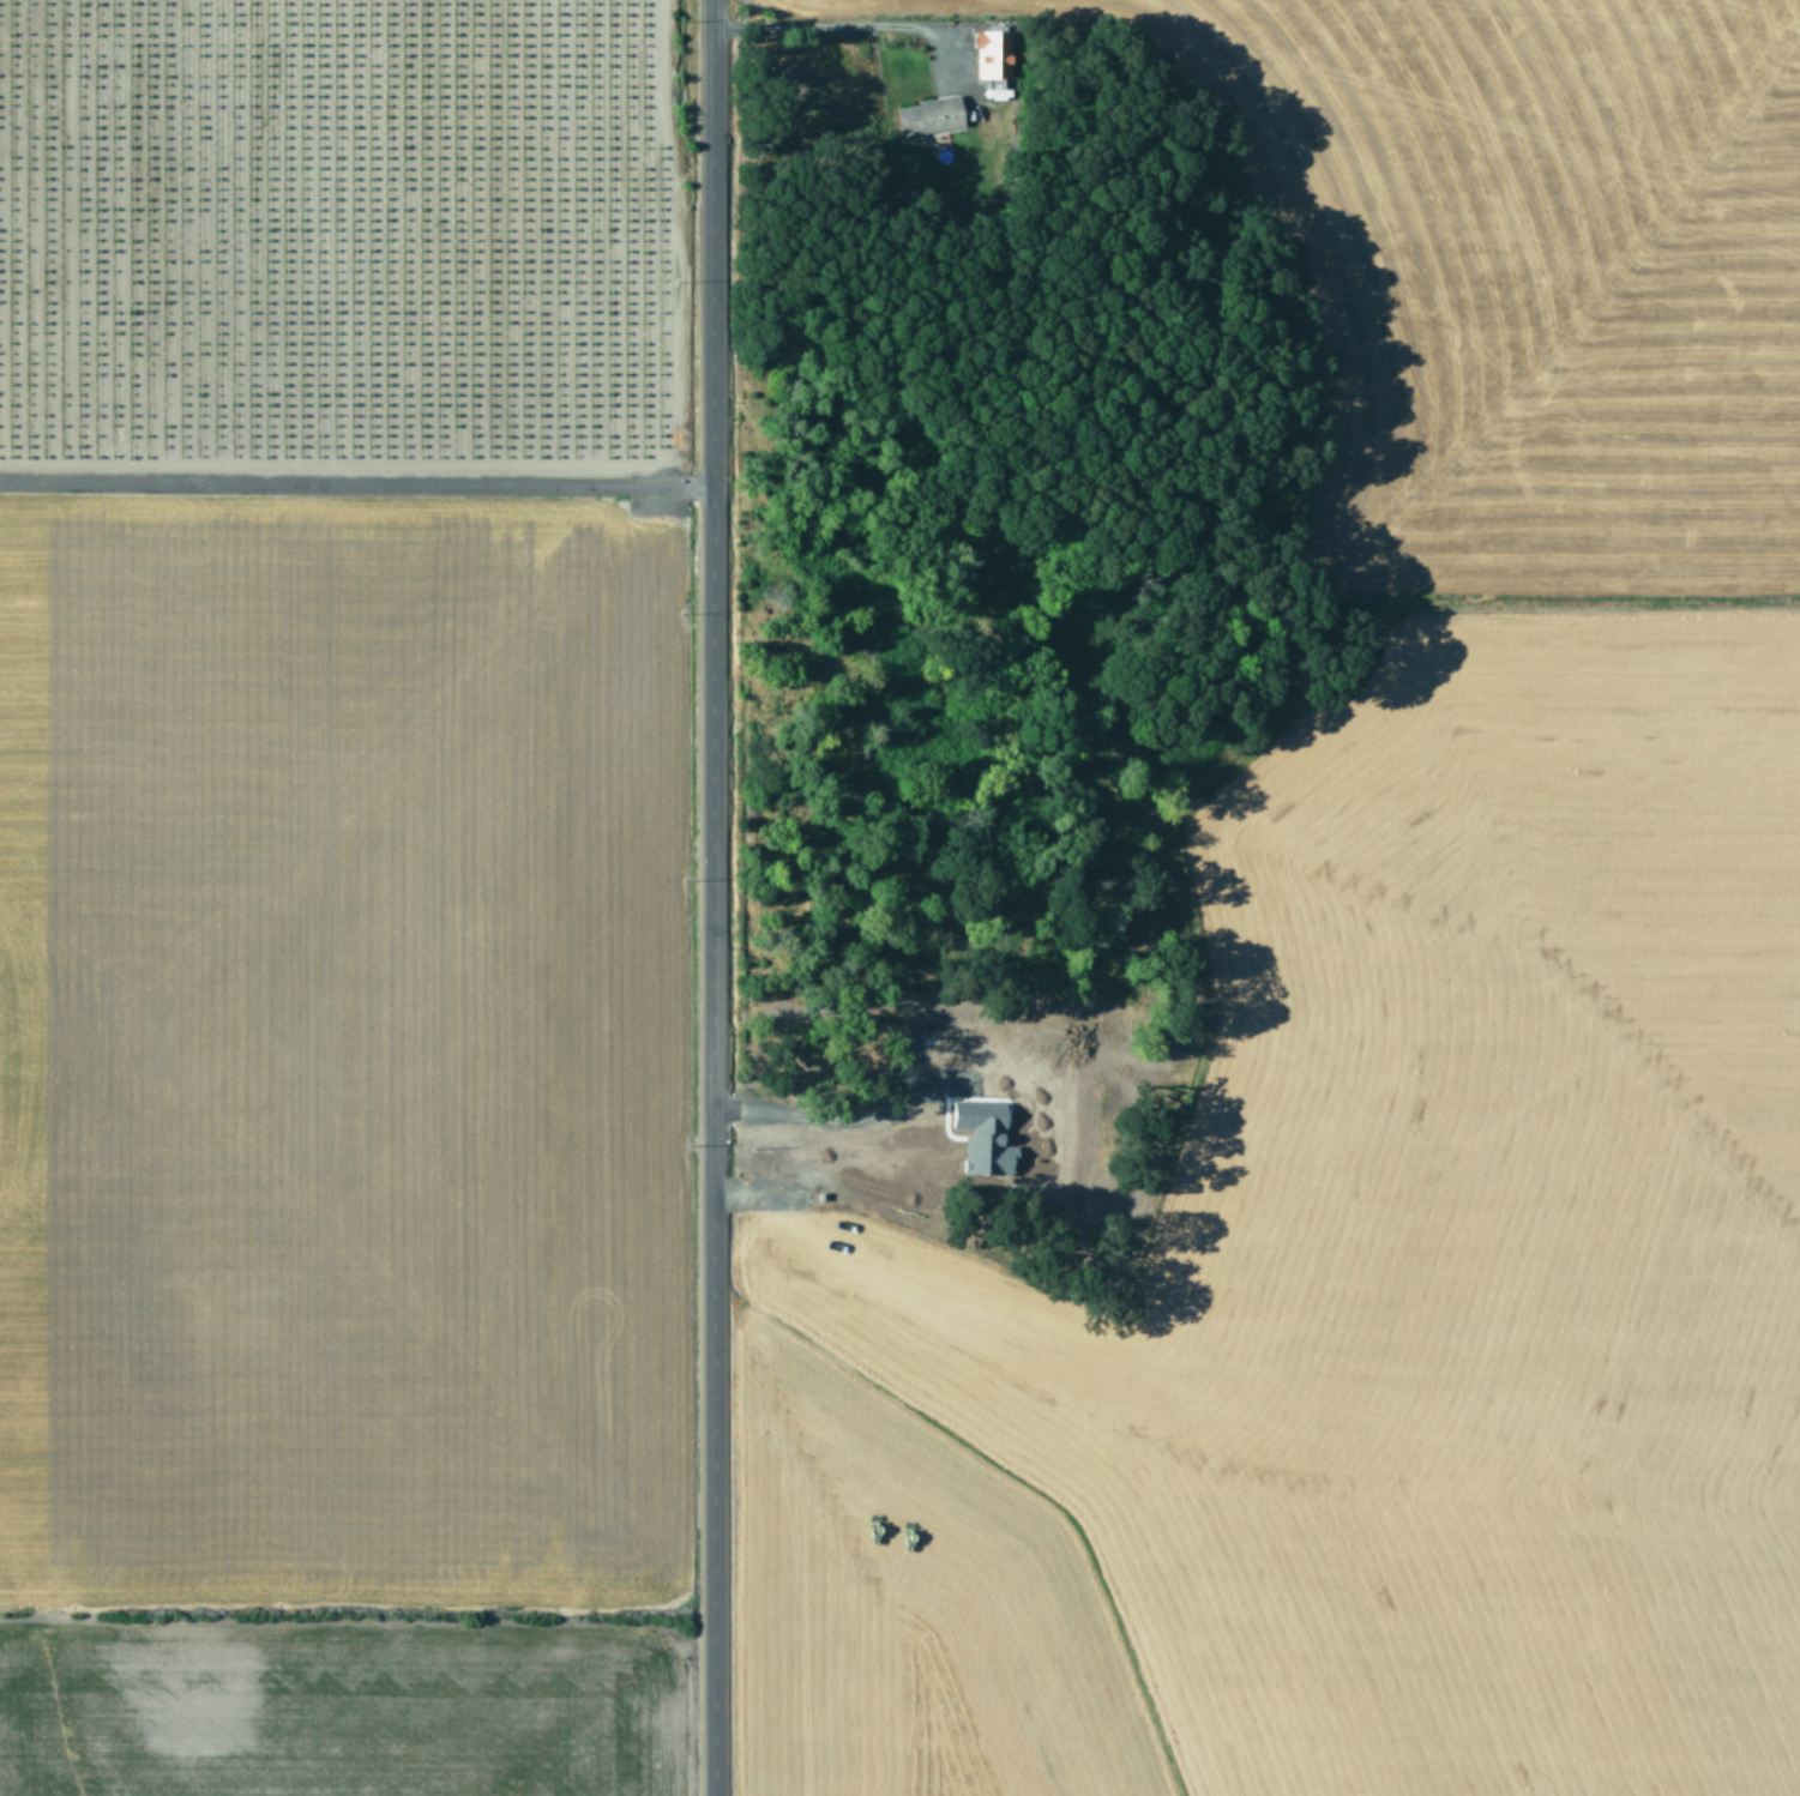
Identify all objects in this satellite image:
building: (989, 53)
building: (925, 115)
road: (353, 484)
road: (706, 897)
crop: (333, 900)
crop: (1405, 1031)
building: (979, 1135)

